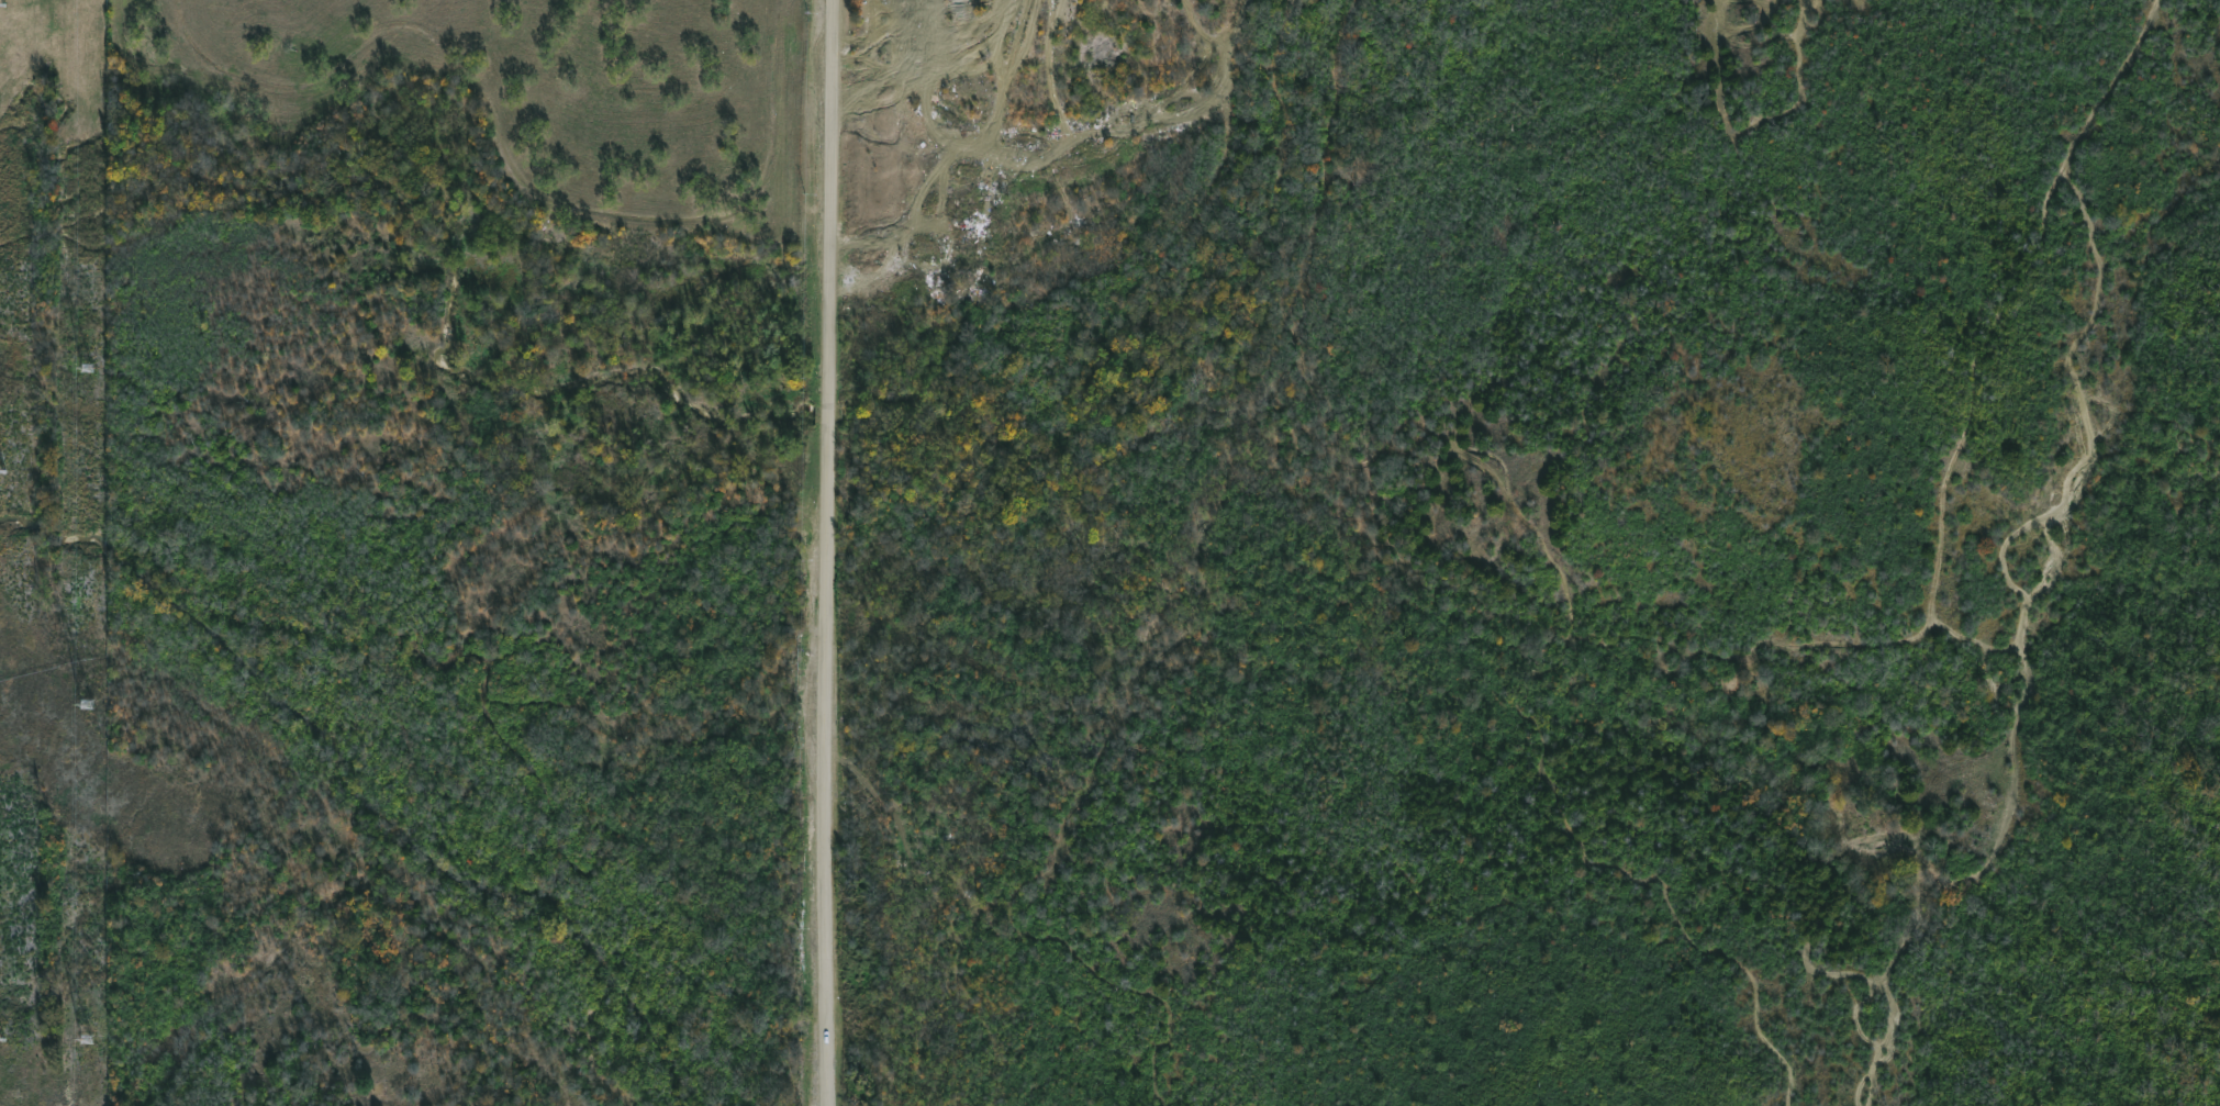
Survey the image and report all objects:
park: (488, 114)
power tower: (92, 371)
road: (828, 552)
power tower: (92, 711)
power tower: (90, 1041)

